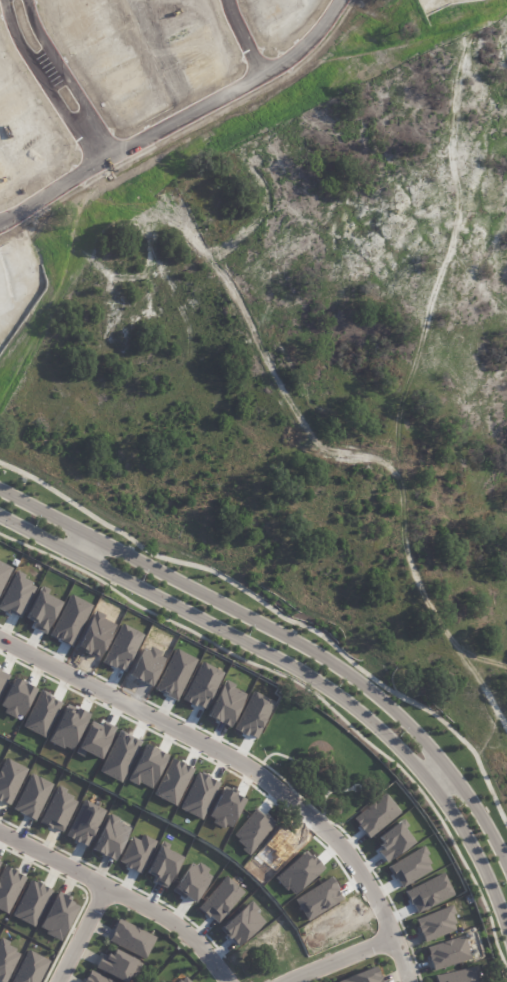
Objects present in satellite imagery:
road: (242, 37)
road: (58, 64)
road: (37, 70)
road: (177, 119)
road: (97, 143)
road: (79, 539)
road: (279, 611)
road: (285, 631)
road: (304, 673)
road: (436, 769)
road: (243, 770)
building: (10, 780)
building: (32, 797)
building: (58, 809)
building: (84, 823)
building: (110, 838)
building: (9, 887)
road: (123, 894)
building: (31, 903)
building: (57, 916)
building: (436, 924)
road: (79, 933)
building: (131, 938)
building: (448, 953)
road: (332, 959)
building: (7, 960)
building: (117, 965)
building: (30, 968)
building: (362, 976)
building: (458, 976)
building: (94, 978)
building: (182, 980)

